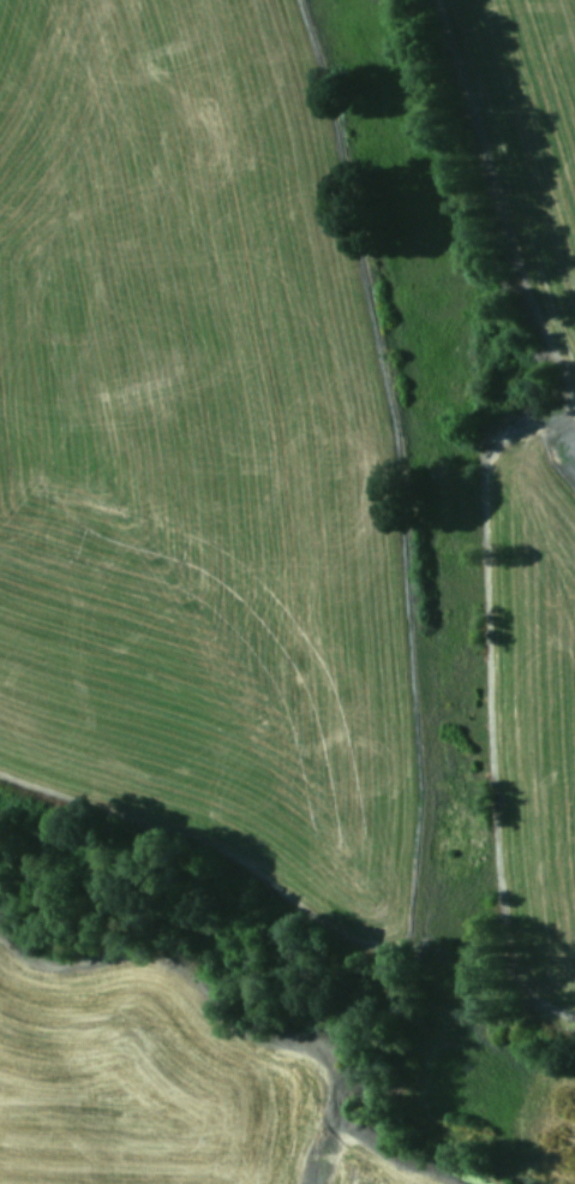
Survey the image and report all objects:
crop: (303, 445)
crop: (155, 1099)

